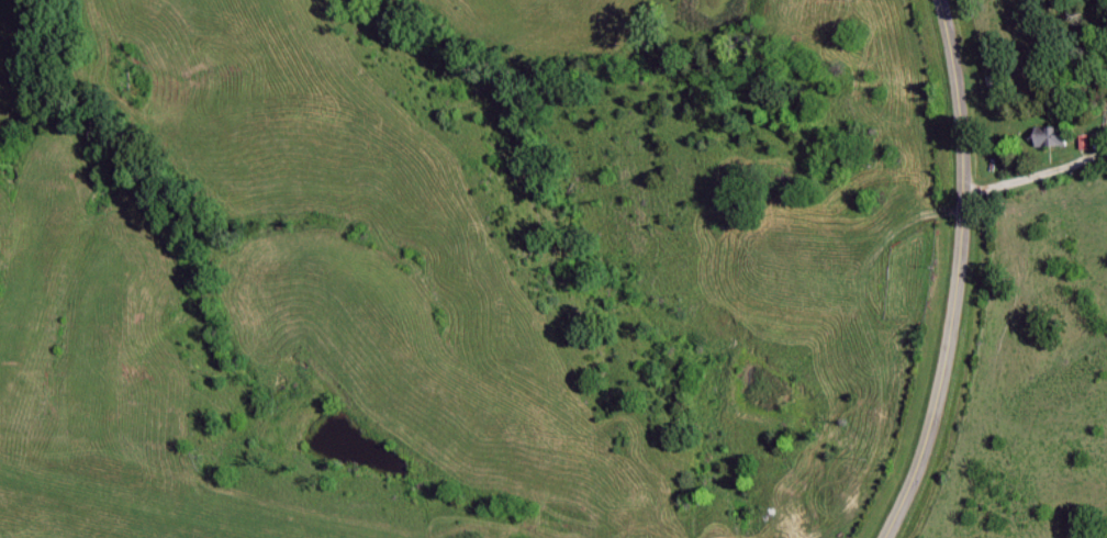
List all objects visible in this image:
building: (1052, 136)
road: (959, 272)

